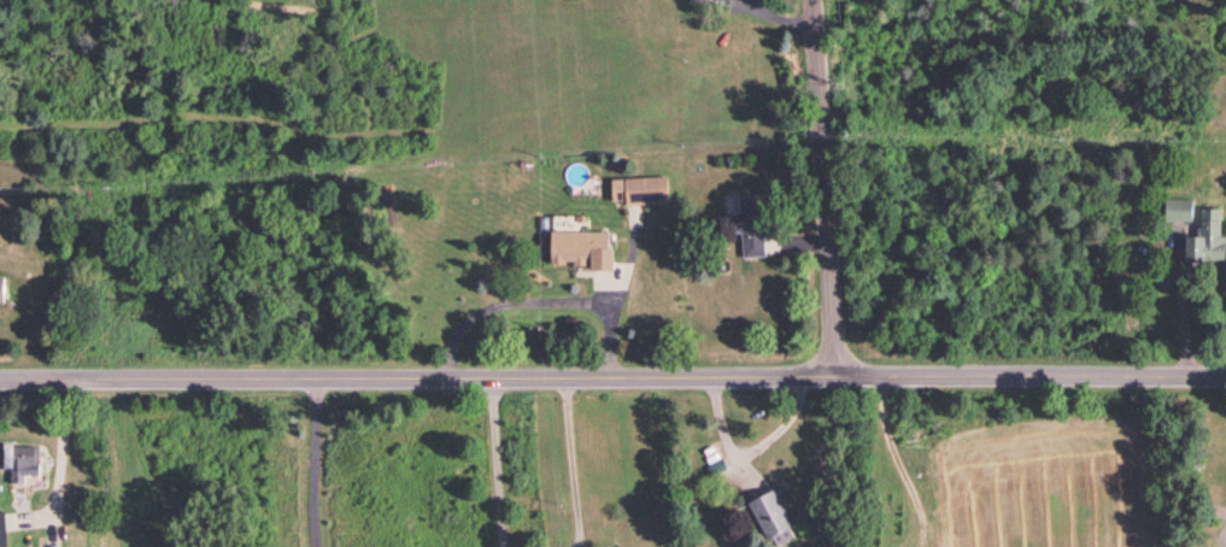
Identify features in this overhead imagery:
road: (822, 187)
building: (638, 188)
building: (1177, 207)
building: (750, 223)
building: (1207, 236)
building: (580, 247)
building: (1, 287)
road: (540, 306)
road: (1184, 307)
road: (612, 375)
building: (23, 461)
road: (311, 461)
road: (497, 461)
road: (573, 461)
road: (64, 466)
crop: (1048, 483)
building: (772, 516)
building: (2, 529)

